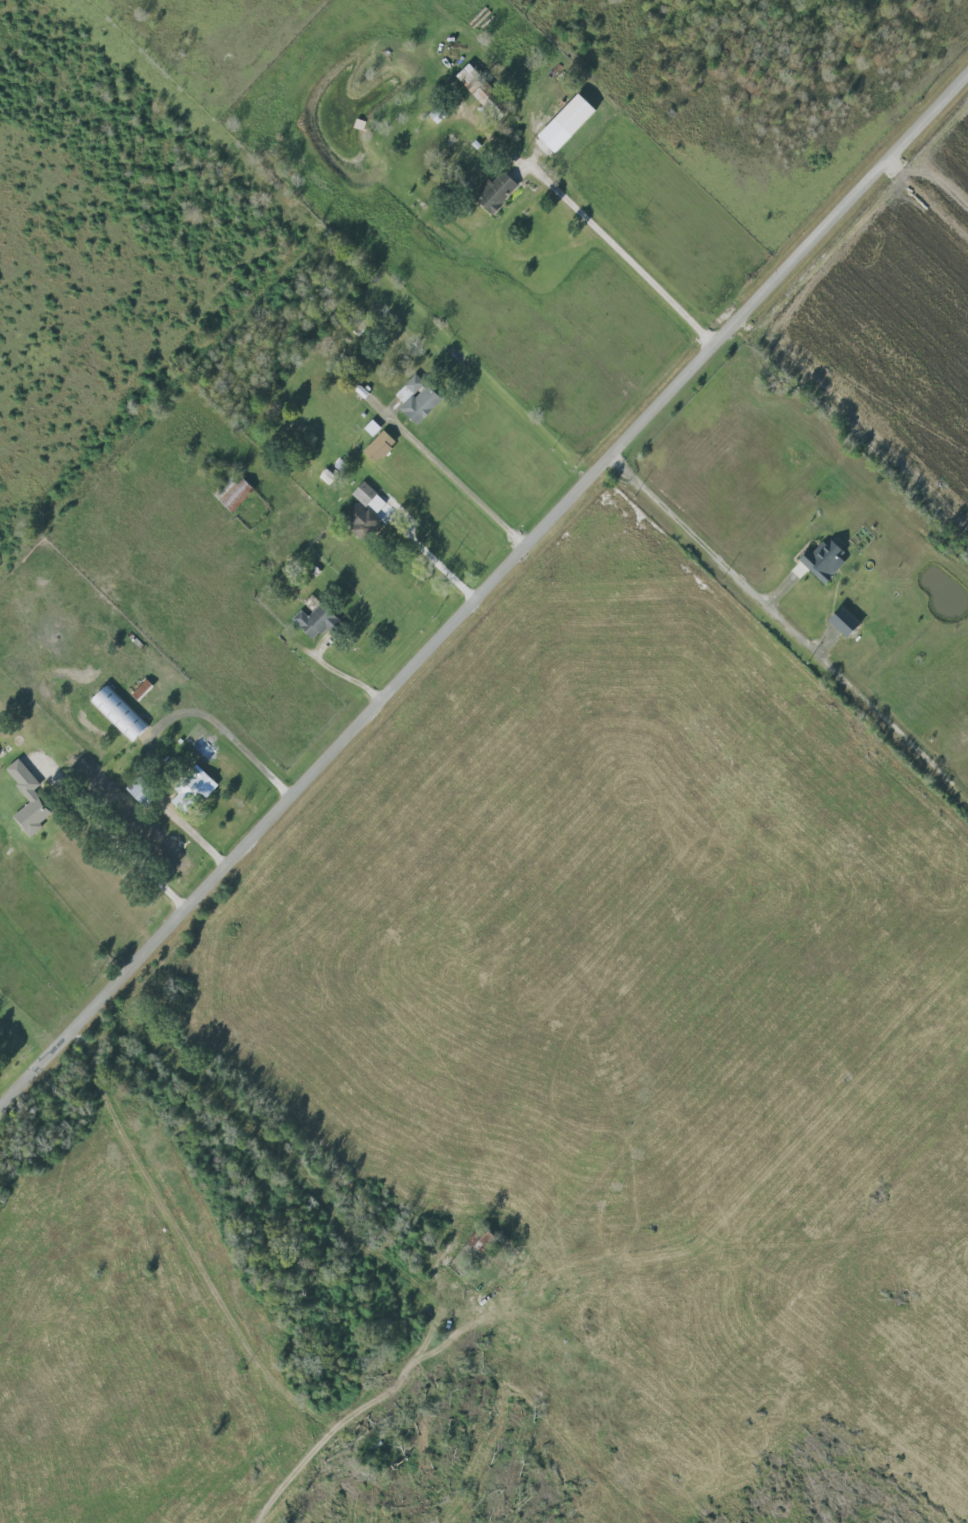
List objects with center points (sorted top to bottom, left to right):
building: (469, 75)
building: (483, 96)
building: (437, 116)
building: (570, 123)
building: (497, 191)
road: (625, 255)
building: (419, 399)
building: (382, 446)
building: (328, 477)
road: (459, 481)
building: (235, 492)
building: (369, 497)
building: (364, 520)
building: (827, 560)
road: (434, 562)
road: (484, 590)
road: (757, 595)
building: (319, 621)
building: (847, 622)
road: (342, 672)
building: (120, 715)
road: (165, 730)
building: (140, 791)
building: (194, 791)
building: (29, 799)
road: (130, 856)
building: (483, 1238)
road: (211, 1290)
road: (406, 1394)

